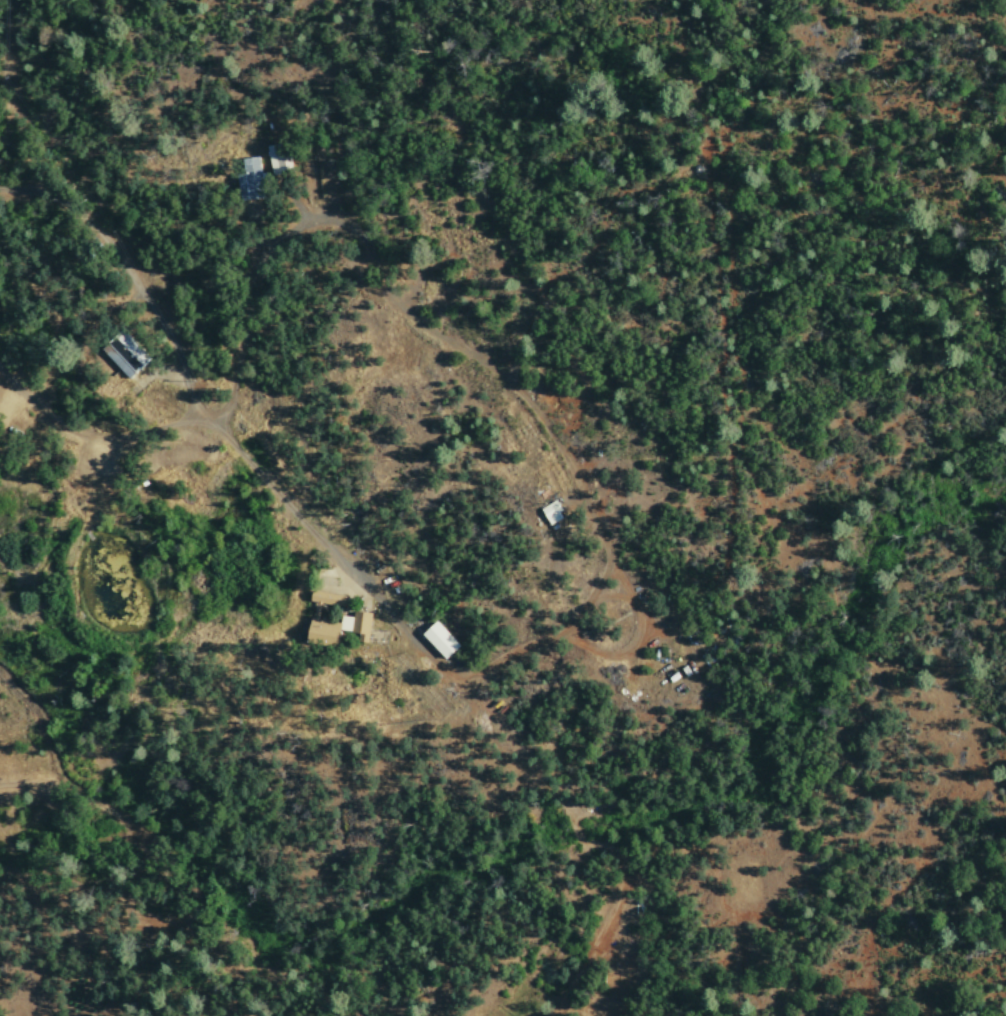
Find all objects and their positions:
building: (276, 158)
building: (250, 180)
building: (125, 354)
building: (549, 511)
building: (329, 619)
building: (436, 638)

